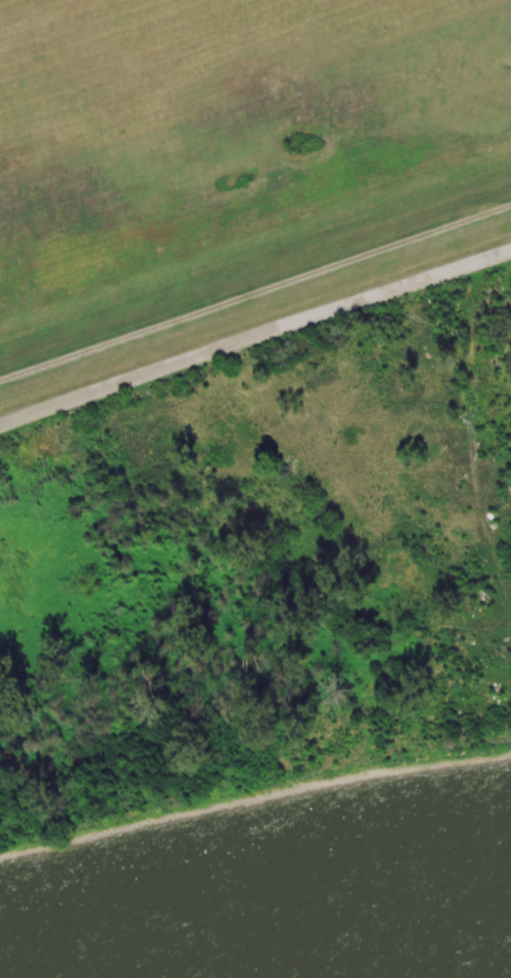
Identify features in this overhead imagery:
road: (483, 259)
park: (490, 295)
road: (227, 345)

